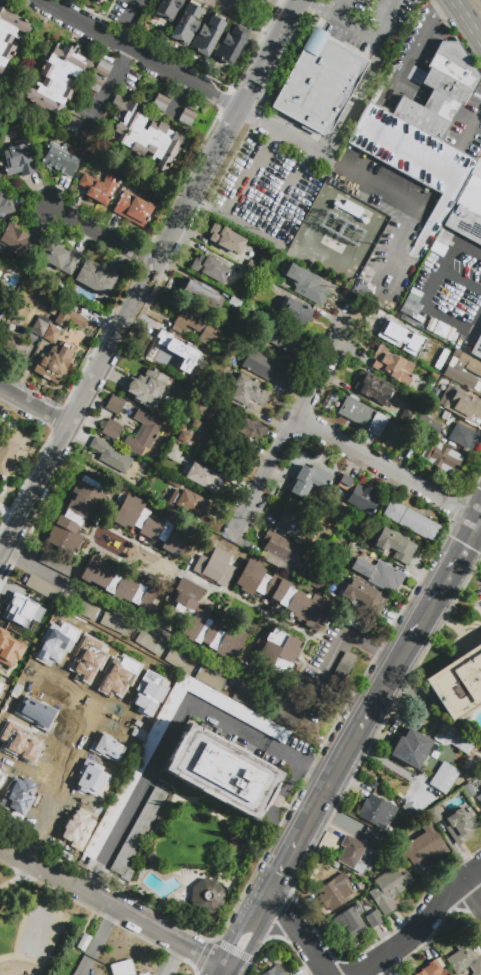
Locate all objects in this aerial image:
building: (99, 0)
building: (263, 1)
road: (439, 4)
building: (168, 8)
road: (317, 9)
road: (339, 9)
road: (255, 13)
road: (470, 17)
road: (129, 21)
building: (186, 24)
building: (9, 34)
building: (208, 34)
road: (421, 40)
road: (375, 41)
building: (231, 44)
road: (140, 54)
road: (262, 65)
building: (103, 68)
building: (56, 79)
building: (318, 82)
building: (94, 83)
road: (111, 85)
road: (181, 97)
road: (354, 100)
building: (160, 102)
building: (187, 117)
building: (72, 124)
road: (471, 128)
building: (144, 134)
building: (424, 134)
road: (329, 157)
building: (18, 159)
building: (60, 160)
road: (209, 163)
building: (99, 187)
building: (6, 204)
road: (210, 206)
building: (132, 208)
building: (352, 208)
building: (467, 211)
road: (248, 229)
road: (102, 235)
building: (17, 238)
building: (226, 238)
road: (454, 242)
building: (333, 244)
road: (402, 245)
building: (60, 258)
building: (252, 264)
building: (210, 268)
building: (244, 273)
building: (96, 278)
building: (306, 284)
building: (201, 292)
road: (425, 297)
building: (413, 303)
building: (233, 305)
building: (296, 310)
building: (412, 314)
building: (69, 319)
building: (195, 325)
building: (38, 329)
building: (440, 331)
building: (51, 335)
building: (277, 335)
building: (397, 335)
building: (169, 346)
building: (13, 348)
building: (476, 348)
building: (203, 353)
building: (54, 361)
building: (393, 366)
building: (265, 368)
building: (463, 371)
road: (97, 373)
building: (145, 385)
building: (372, 388)
building: (247, 392)
building: (460, 403)
building: (115, 404)
road: (35, 405)
building: (198, 406)
building: (396, 410)
building: (362, 414)
building: (195, 422)
building: (200, 425)
building: (427, 425)
road: (289, 426)
building: (111, 429)
building: (250, 432)
building: (142, 433)
building: (18, 434)
building: (184, 435)
building: (465, 436)
building: (417, 440)
building: (172, 453)
building: (9, 454)
building: (110, 455)
building: (441, 458)
road: (385, 468)
building: (202, 477)
building: (172, 479)
building: (309, 480)
building: (358, 495)
building: (187, 505)
road: (479, 516)
building: (77, 517)
road: (479, 519)
building: (412, 522)
building: (152, 527)
building: (294, 527)
building: (395, 546)
building: (284, 551)
road: (456, 556)
building: (57, 565)
building: (213, 569)
building: (380, 576)
building: (318, 579)
building: (118, 586)
building: (44, 590)
building: (283, 595)
building: (364, 599)
building: (20, 608)
building: (88, 612)
road: (419, 619)
building: (166, 623)
building: (205, 625)
building: (357, 625)
building: (116, 627)
building: (54, 641)
building: (152, 647)
building: (8, 648)
building: (279, 654)
building: (82, 655)
building: (181, 663)
road: (216, 667)
road: (392, 668)
building: (344, 669)
building: (111, 675)
building: (211, 681)
building: (458, 682)
building: (272, 683)
building: (0, 684)
building: (144, 693)
building: (247, 701)
building: (323, 707)
building: (30, 710)
building: (285, 721)
road: (356, 733)
road: (170, 737)
building: (454, 737)
building: (15, 738)
building: (103, 746)
building: (411, 748)
road: (382, 760)
road: (55, 765)
road: (305, 768)
building: (222, 773)
building: (1, 774)
building: (84, 775)
building: (467, 777)
building: (445, 779)
building: (16, 791)
building: (468, 791)
building: (480, 799)
building: (120, 801)
road: (314, 806)
building: (434, 813)
building: (378, 814)
building: (459, 822)
building: (138, 836)
building: (424, 846)
building: (353, 856)
road: (20, 857)
building: (75, 857)
road: (278, 870)
road: (93, 877)
road: (17, 878)
building: (359, 886)
building: (390, 886)
building: (336, 891)
road: (472, 894)
building: (207, 897)
road: (133, 917)
building: (374, 920)
road: (22, 924)
building: (351, 924)
road: (421, 926)
park: (41, 927)
road: (52, 929)
park: (36, 931)
road: (82, 931)
road: (237, 932)
road: (295, 935)
road: (249, 938)
road: (212, 939)
road: (98, 940)
building: (84, 942)
road: (234, 949)
road: (202, 954)
road: (172, 959)
building: (464, 961)
building: (122, 968)
road: (250, 968)
building: (432, 970)
road: (218, 971)
road: (223, 971)
building: (274, 971)
road: (195, 972)
building: (144, 974)

